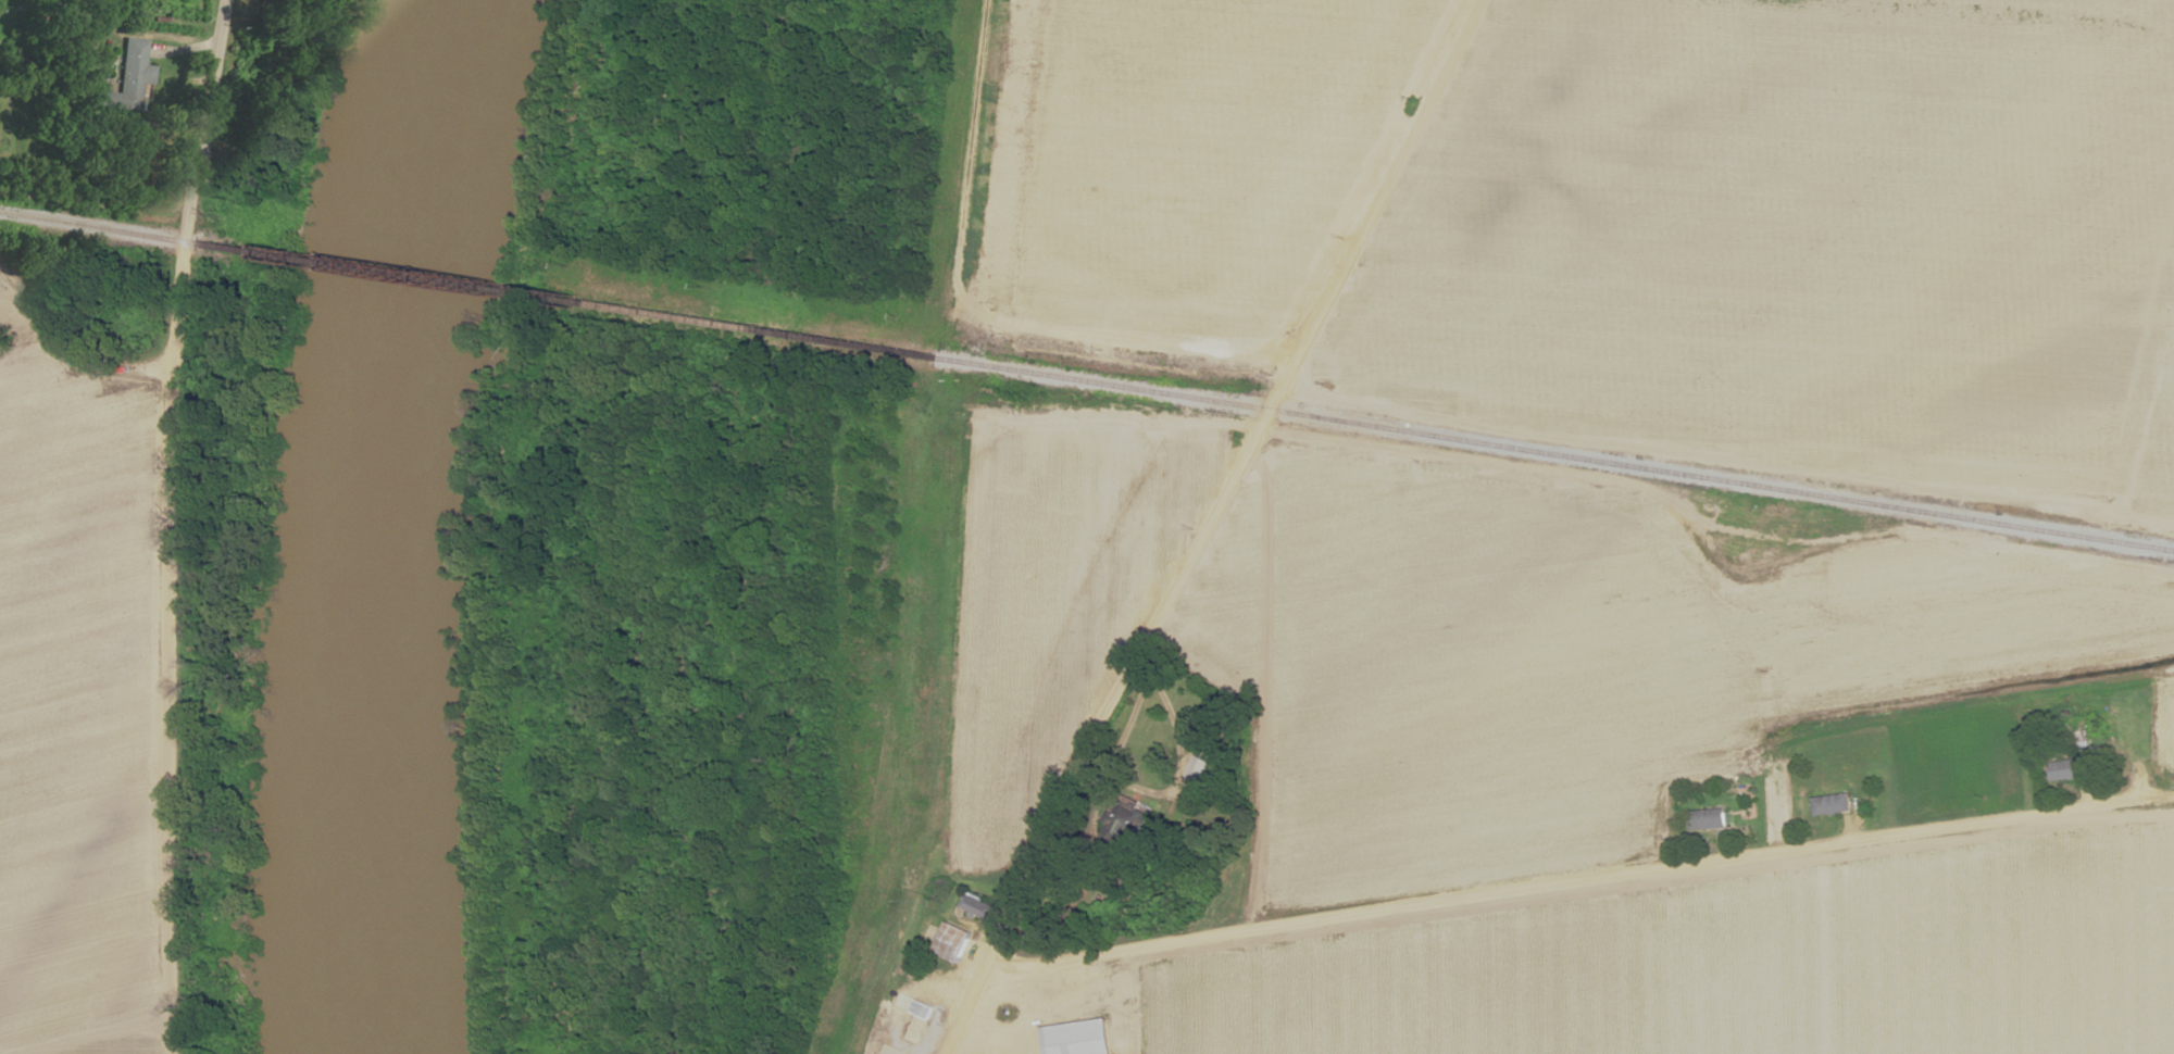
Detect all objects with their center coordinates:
building: (127, 73)
railway: (121, 229)
railway: (586, 303)
road: (978, 310)
road: (60, 348)
railway: (1552, 451)
river: (368, 524)
road: (164, 525)
road: (1201, 528)
road: (1590, 572)
road: (928, 723)
building: (2064, 768)
building: (1828, 803)
building: (1702, 818)
road: (1574, 882)
building: (973, 905)
building: (949, 941)
building: (917, 1008)
building: (1072, 1037)

